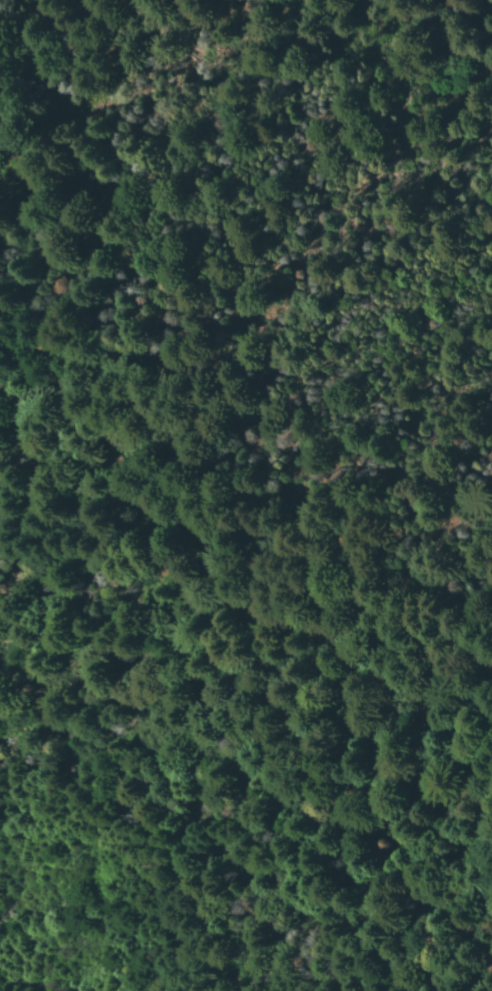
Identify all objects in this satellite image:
road: (233, 605)

